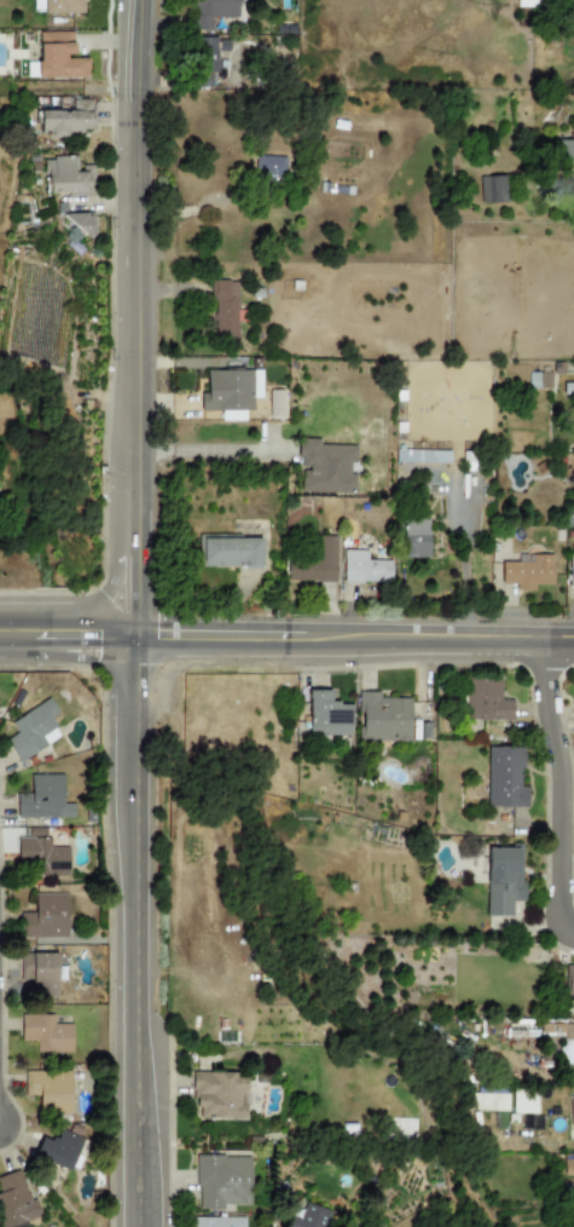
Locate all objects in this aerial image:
building: (527, 2)
building: (56, 6)
building: (211, 12)
building: (58, 57)
building: (64, 120)
building: (563, 150)
building: (269, 169)
building: (66, 175)
building: (491, 189)
building: (225, 310)
road: (133, 313)
building: (568, 388)
building: (231, 393)
building: (421, 456)
building: (325, 468)
road: (462, 528)
building: (414, 540)
building: (228, 552)
building: (314, 563)
building: (363, 568)
building: (570, 569)
building: (527, 571)
road: (286, 630)
building: (486, 701)
building: (326, 715)
building: (382, 718)
building: (31, 731)
building: (504, 777)
road: (558, 788)
building: (42, 799)
building: (40, 853)
building: (503, 881)
building: (45, 918)
road: (135, 927)
building: (39, 968)
building: (569, 985)
building: (45, 1033)
building: (573, 1048)
building: (51, 1089)
building: (219, 1096)
building: (489, 1101)
building: (523, 1101)
building: (570, 1111)
building: (58, 1148)
building: (568, 1166)
building: (222, 1181)
building: (307, 1217)
building: (219, 1222)

